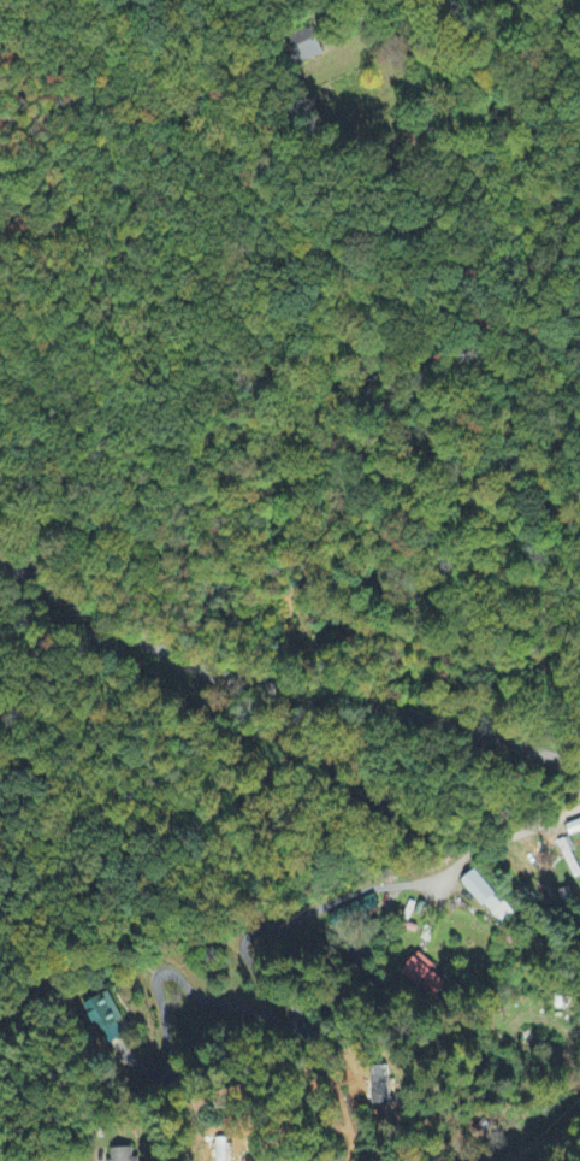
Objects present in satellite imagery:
road: (279, 688)
building: (574, 829)
building: (568, 848)
building: (489, 898)
road: (249, 962)
building: (425, 976)
road: (540, 1143)
building: (123, 1155)

